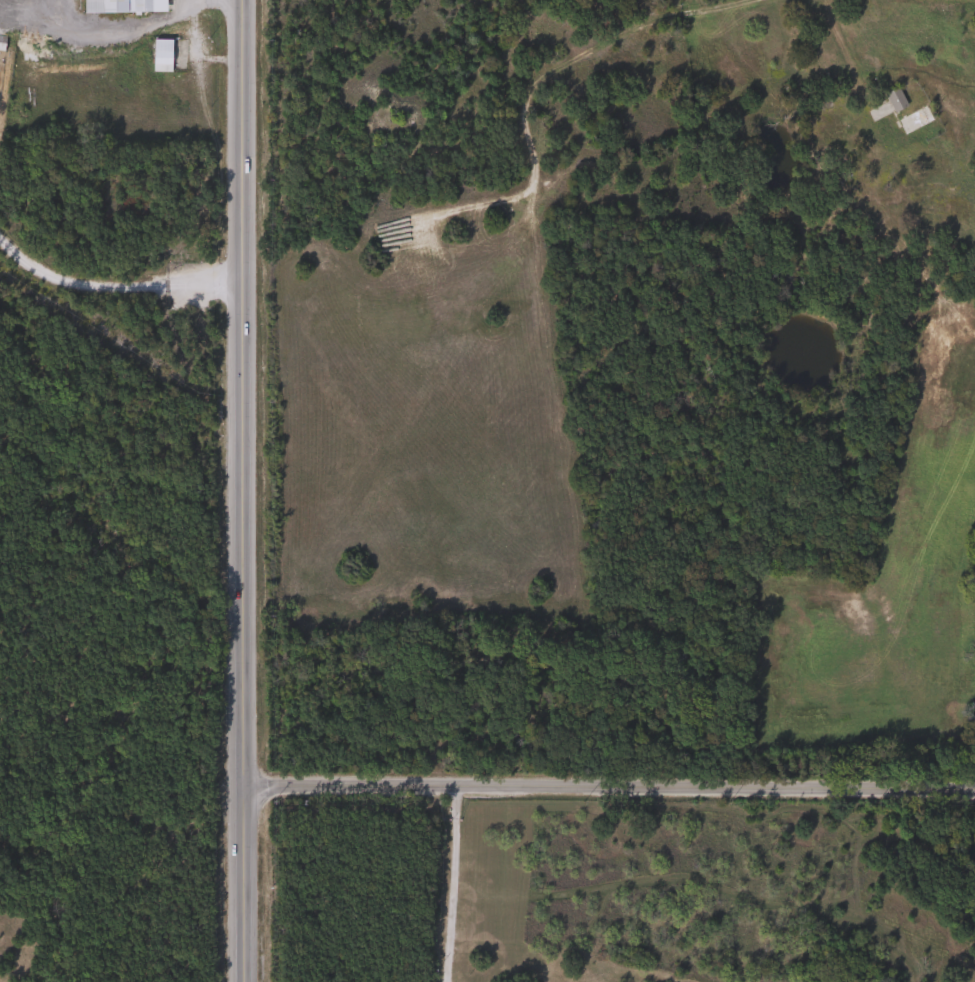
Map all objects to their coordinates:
building: (121, 6)
road: (713, 7)
road: (118, 40)
building: (0, 43)
building: (649, 48)
road: (842, 55)
building: (158, 56)
building: (892, 100)
building: (912, 119)
road: (114, 282)
road: (241, 491)
road: (606, 787)
road: (451, 883)

